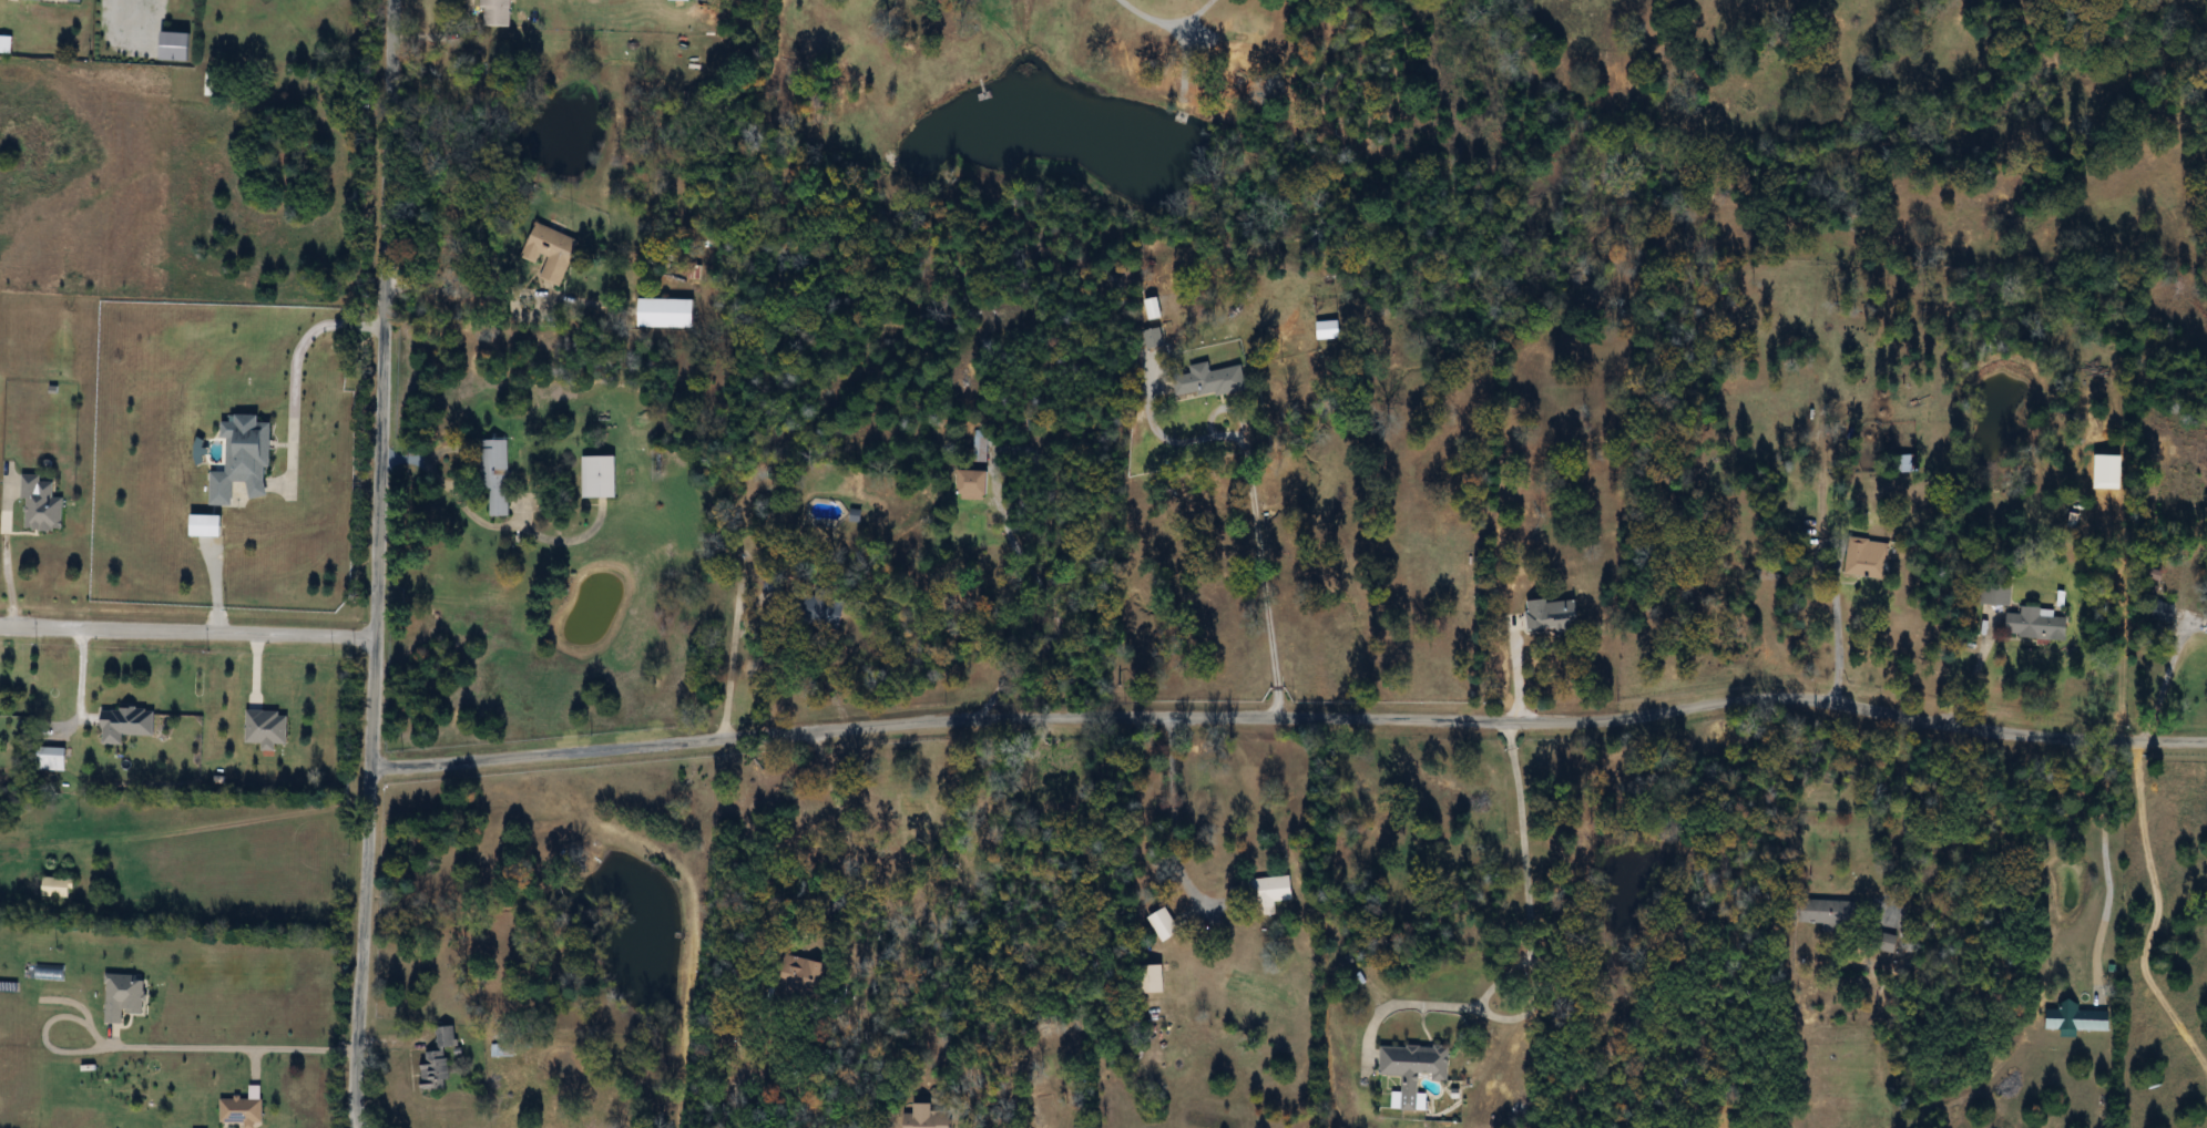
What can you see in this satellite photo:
building: (72, 0)
building: (497, 13)
road: (1146, 17)
building: (180, 47)
building: (552, 252)
building: (1153, 308)
building: (667, 312)
building: (1153, 338)
road: (297, 347)
building: (1207, 380)
building: (980, 447)
building: (244, 458)
building: (601, 476)
building: (498, 478)
building: (975, 483)
road: (446, 485)
building: (42, 504)
building: (208, 525)
building: (1867, 558)
road: (374, 564)
road: (8, 577)
building: (772, 583)
road: (1264, 592)
building: (1999, 594)
building: (817, 608)
building: (2165, 612)
road: (1056, 618)
building: (2035, 624)
road: (185, 633)
road: (1836, 644)
road: (728, 662)
road: (1971, 673)
road: (2165, 676)
road: (1290, 718)
building: (127, 724)
building: (268, 727)
building: (52, 758)
road: (1168, 819)
road: (217, 828)
road: (848, 843)
road: (2104, 862)
building: (59, 888)
building: (1266, 893)
building: (1832, 914)
building: (1165, 925)
road: (1527, 927)
building: (797, 980)
building: (1155, 980)
building: (2077, 1018)
road: (210, 1050)
building: (502, 1050)
building: (440, 1060)
building: (1414, 1069)
building: (245, 1108)
building: (929, 1118)

